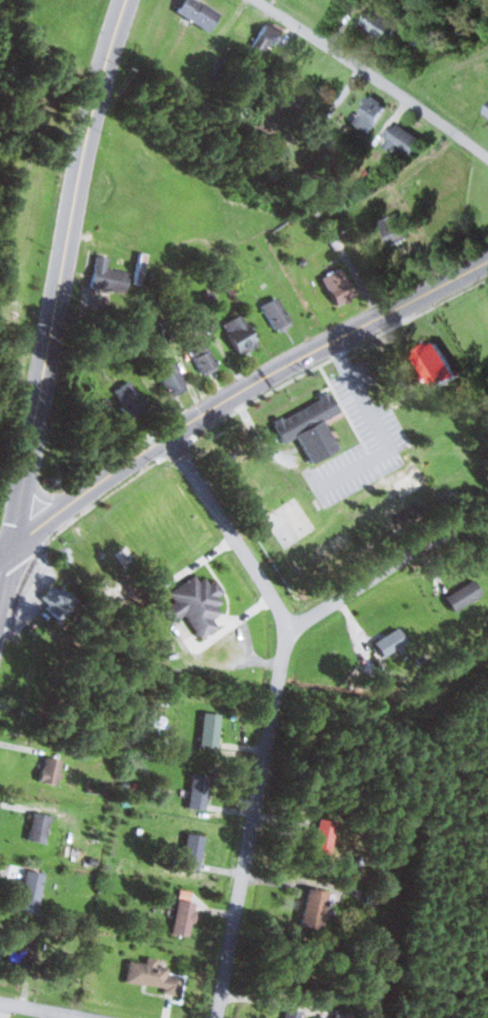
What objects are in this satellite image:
building: (200, 13)
building: (245, 22)
building: (382, 24)
building: (267, 38)
building: (302, 56)
road: (374, 78)
building: (487, 112)
building: (373, 113)
building: (407, 141)
building: (395, 229)
building: (110, 276)
building: (340, 286)
road: (55, 306)
building: (278, 314)
building: (243, 334)
building: (204, 358)
building: (436, 362)
building: (172, 379)
road: (242, 387)
building: (132, 397)
building: (311, 428)
road: (6, 548)
building: (118, 575)
road: (357, 588)
building: (465, 595)
building: (198, 604)
building: (392, 642)
road: (272, 710)
building: (212, 731)
building: (53, 770)
building: (200, 793)
building: (41, 827)
building: (327, 837)
building: (195, 852)
building: (32, 892)
building: (318, 909)
building: (186, 915)
building: (22, 950)
building: (153, 975)
road: (41, 1010)
building: (297, 1013)

